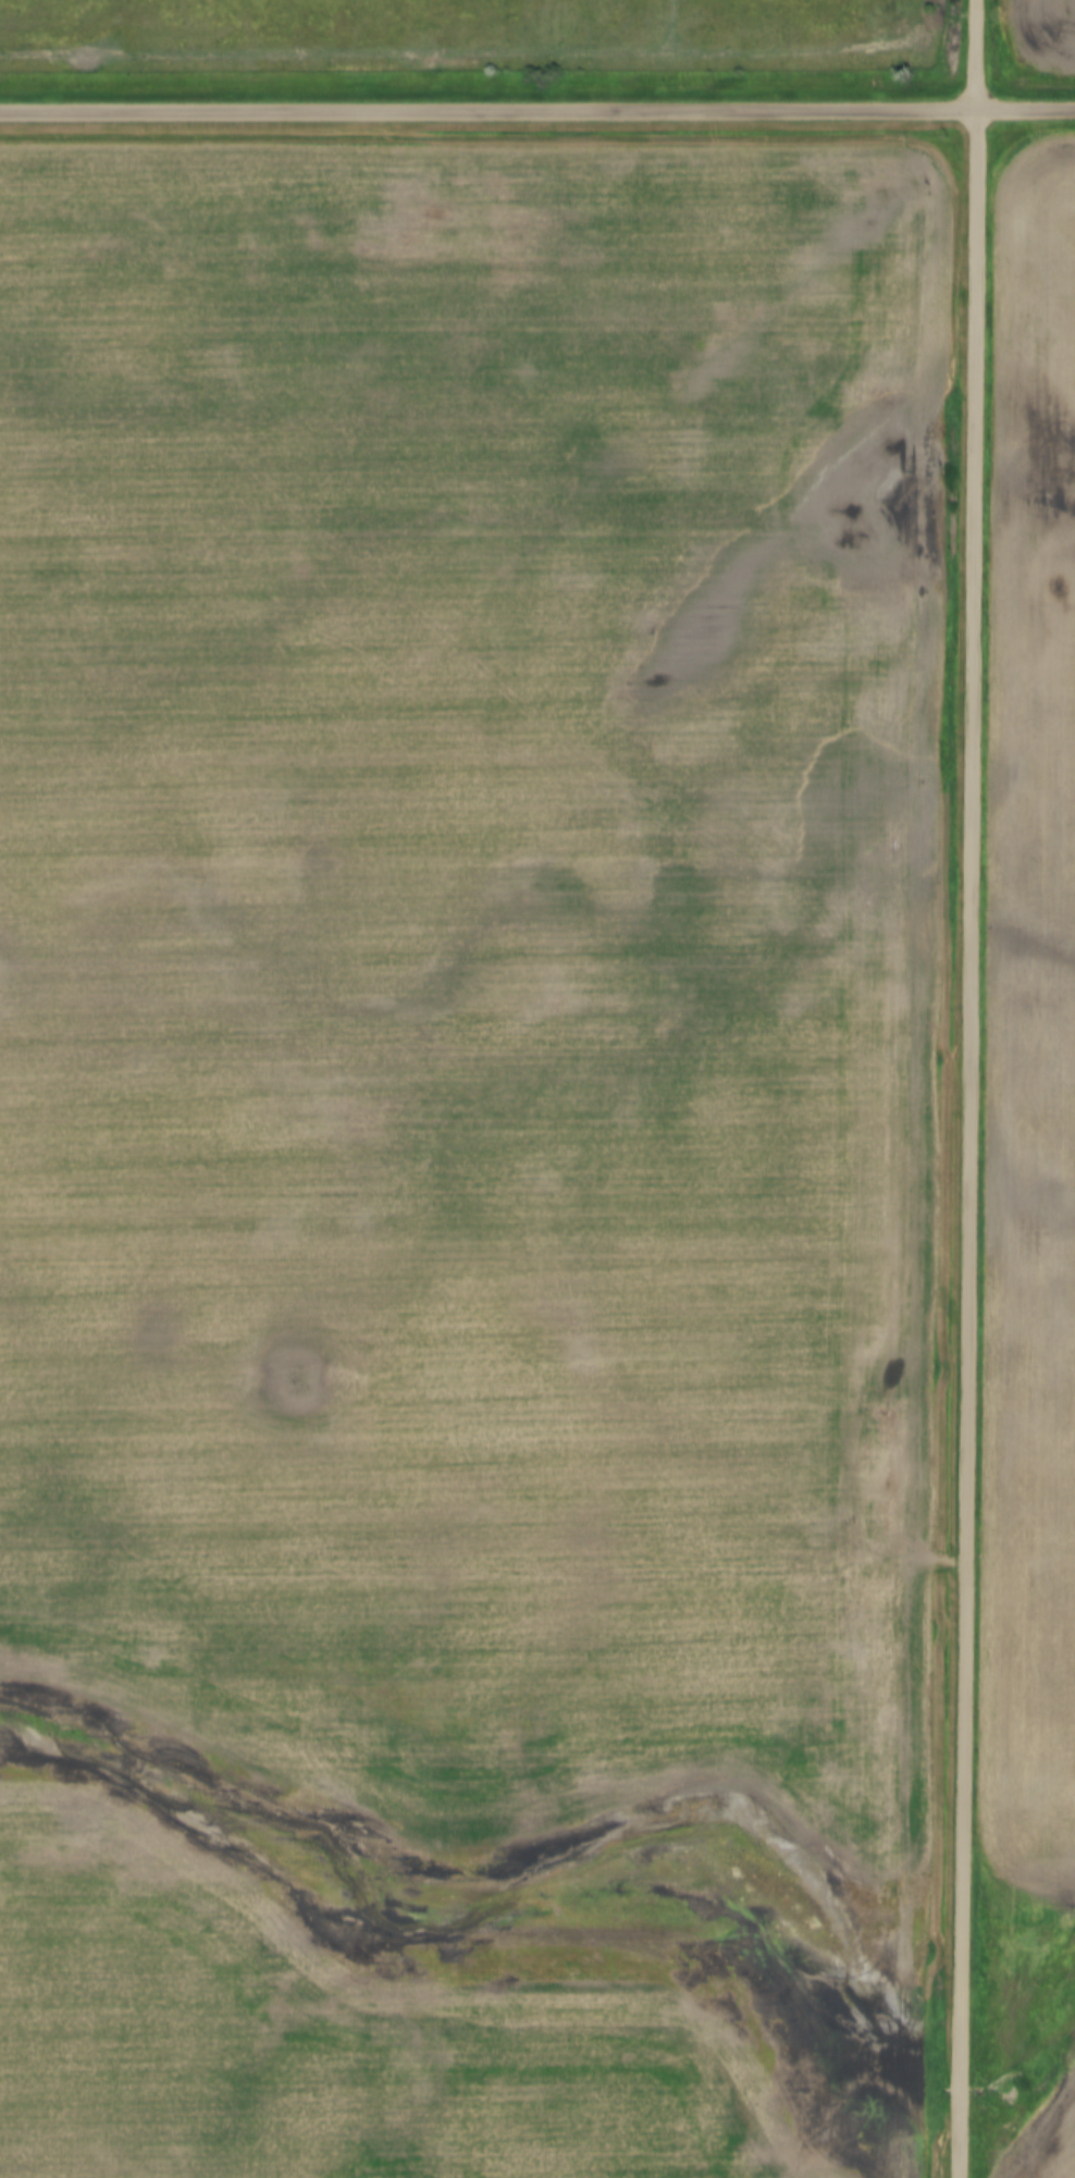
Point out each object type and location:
road: (976, 53)
road: (537, 110)
road: (972, 1143)

